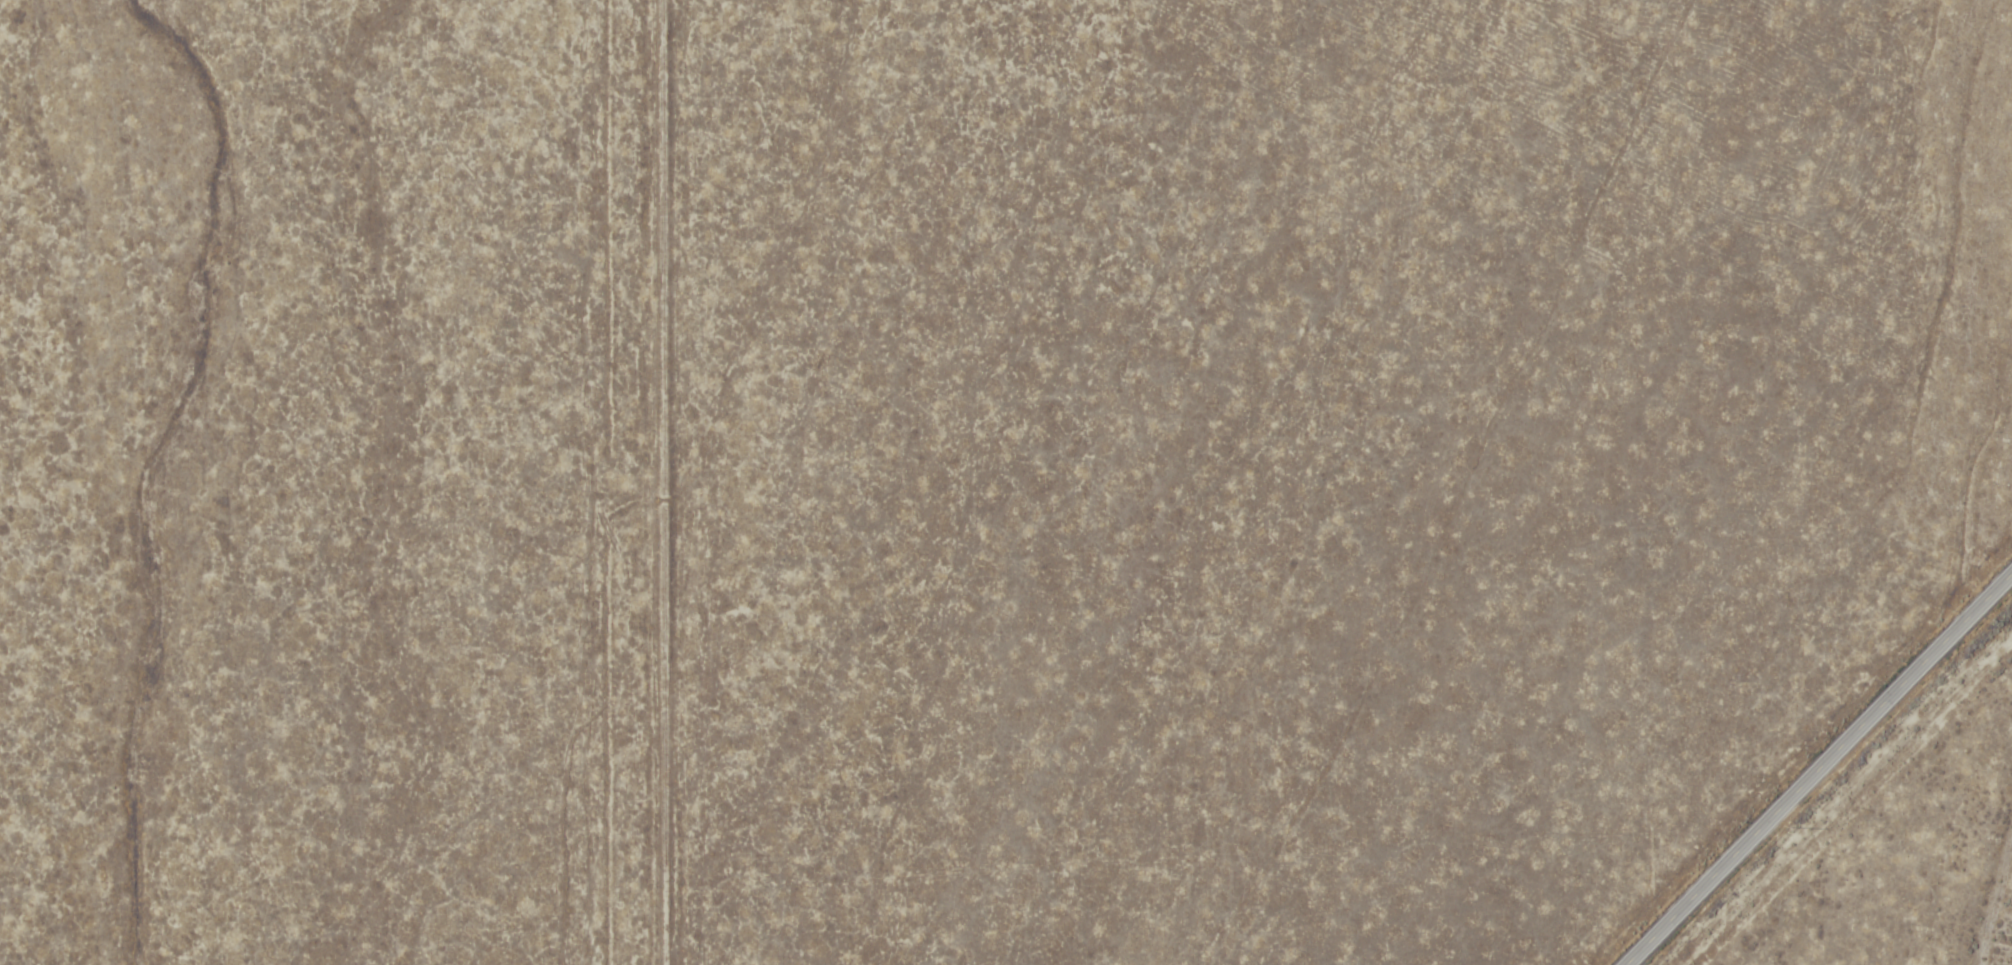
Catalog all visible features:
road: (1820, 771)

